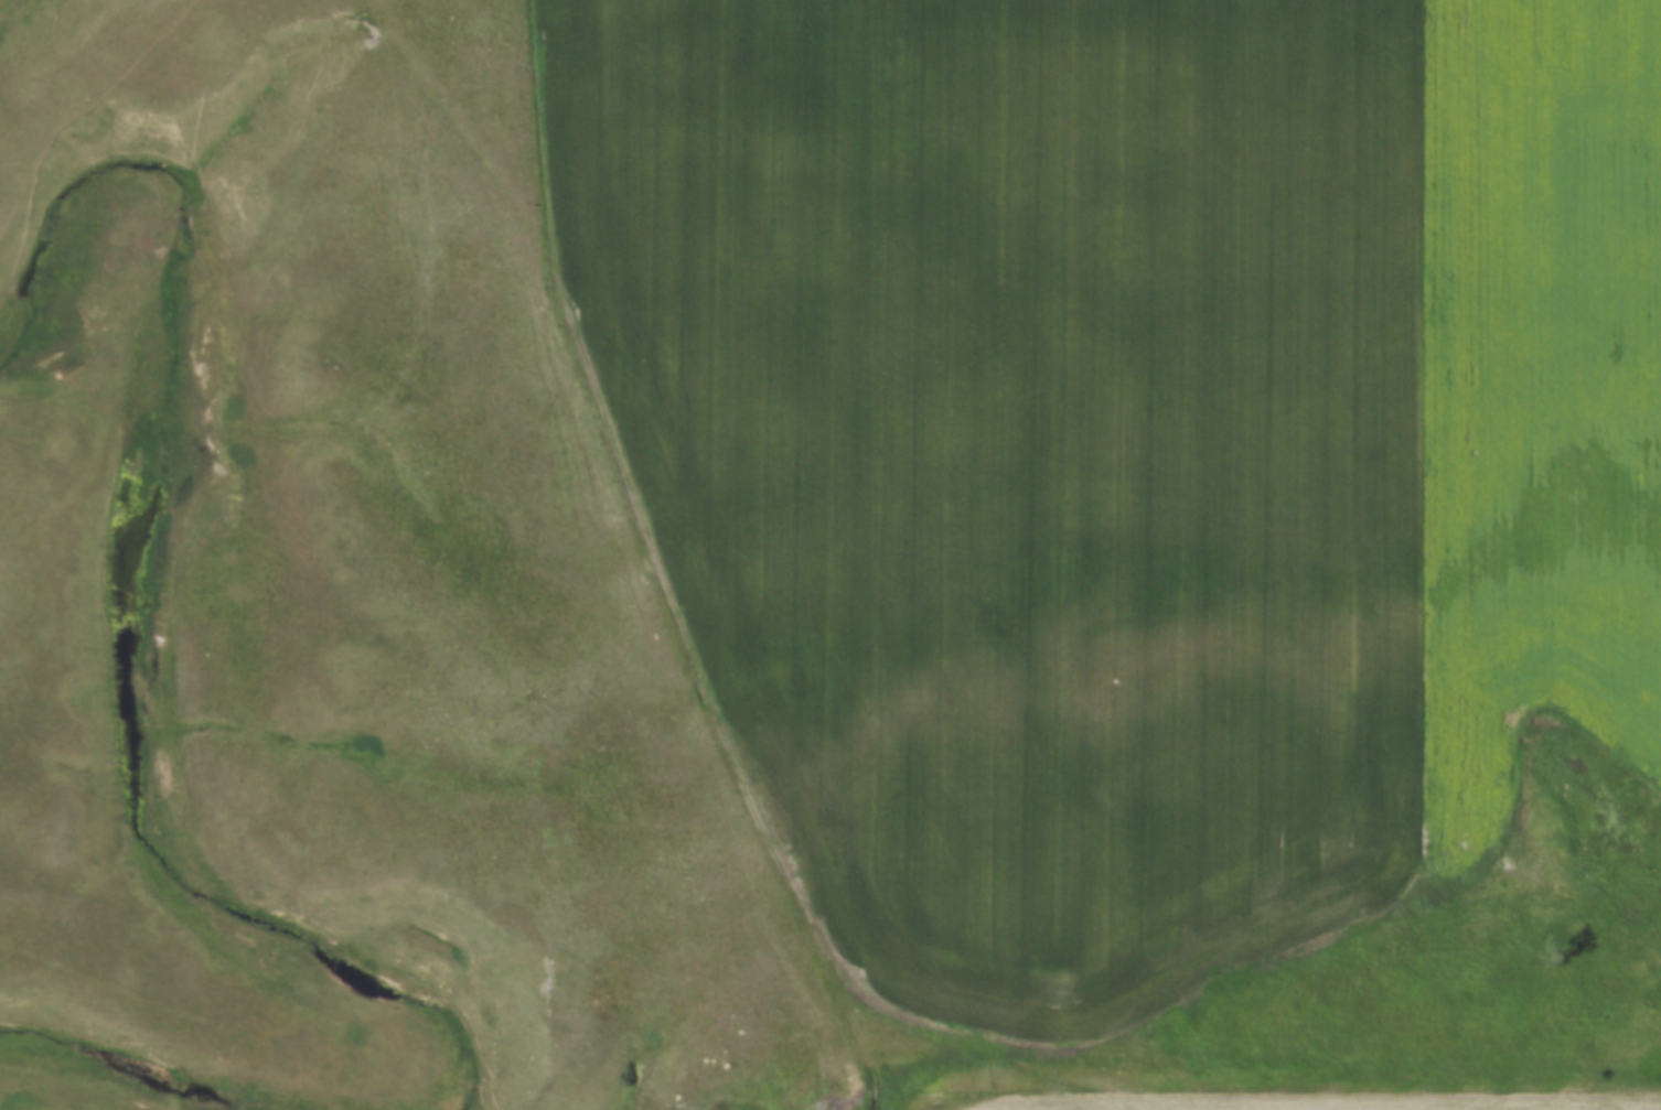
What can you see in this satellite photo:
road: (661, 568)

